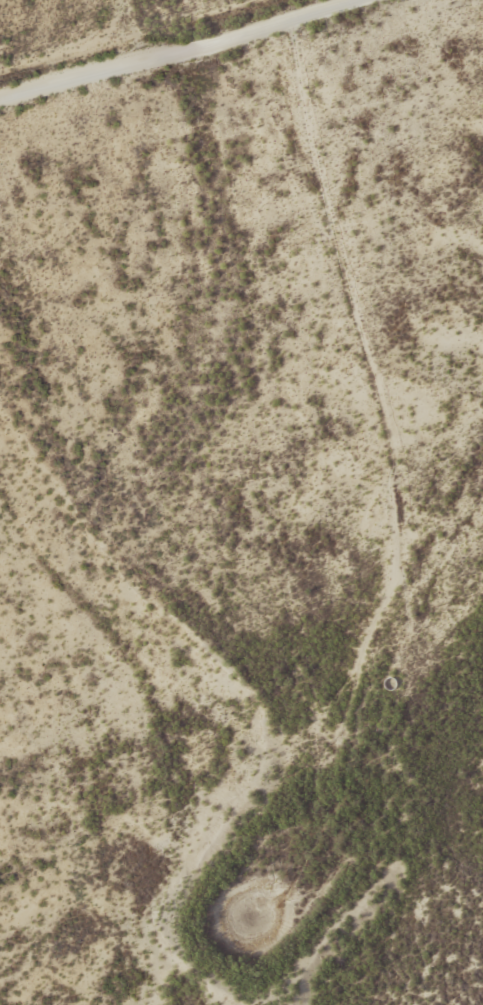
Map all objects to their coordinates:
road: (183, 51)
road: (373, 387)
road: (166, 724)

